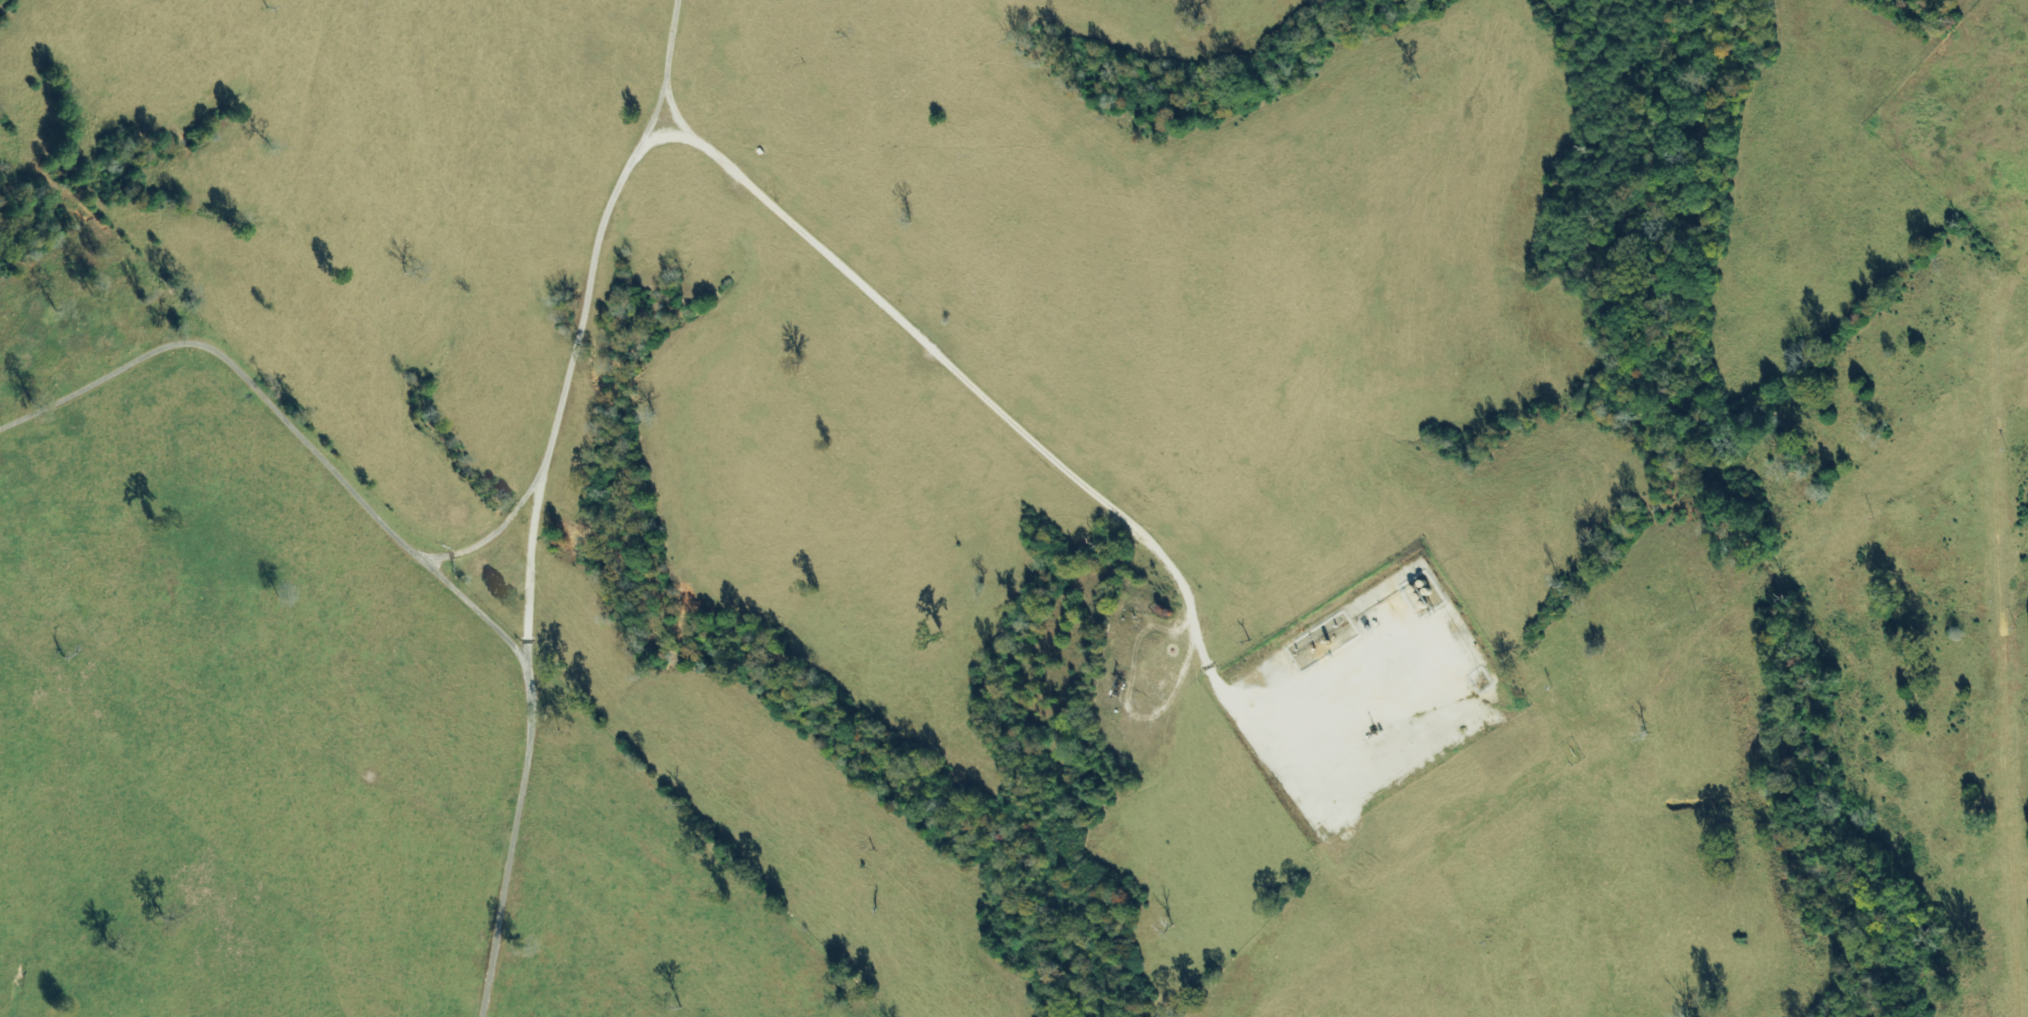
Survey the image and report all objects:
petroleum well: (1368, 733)

